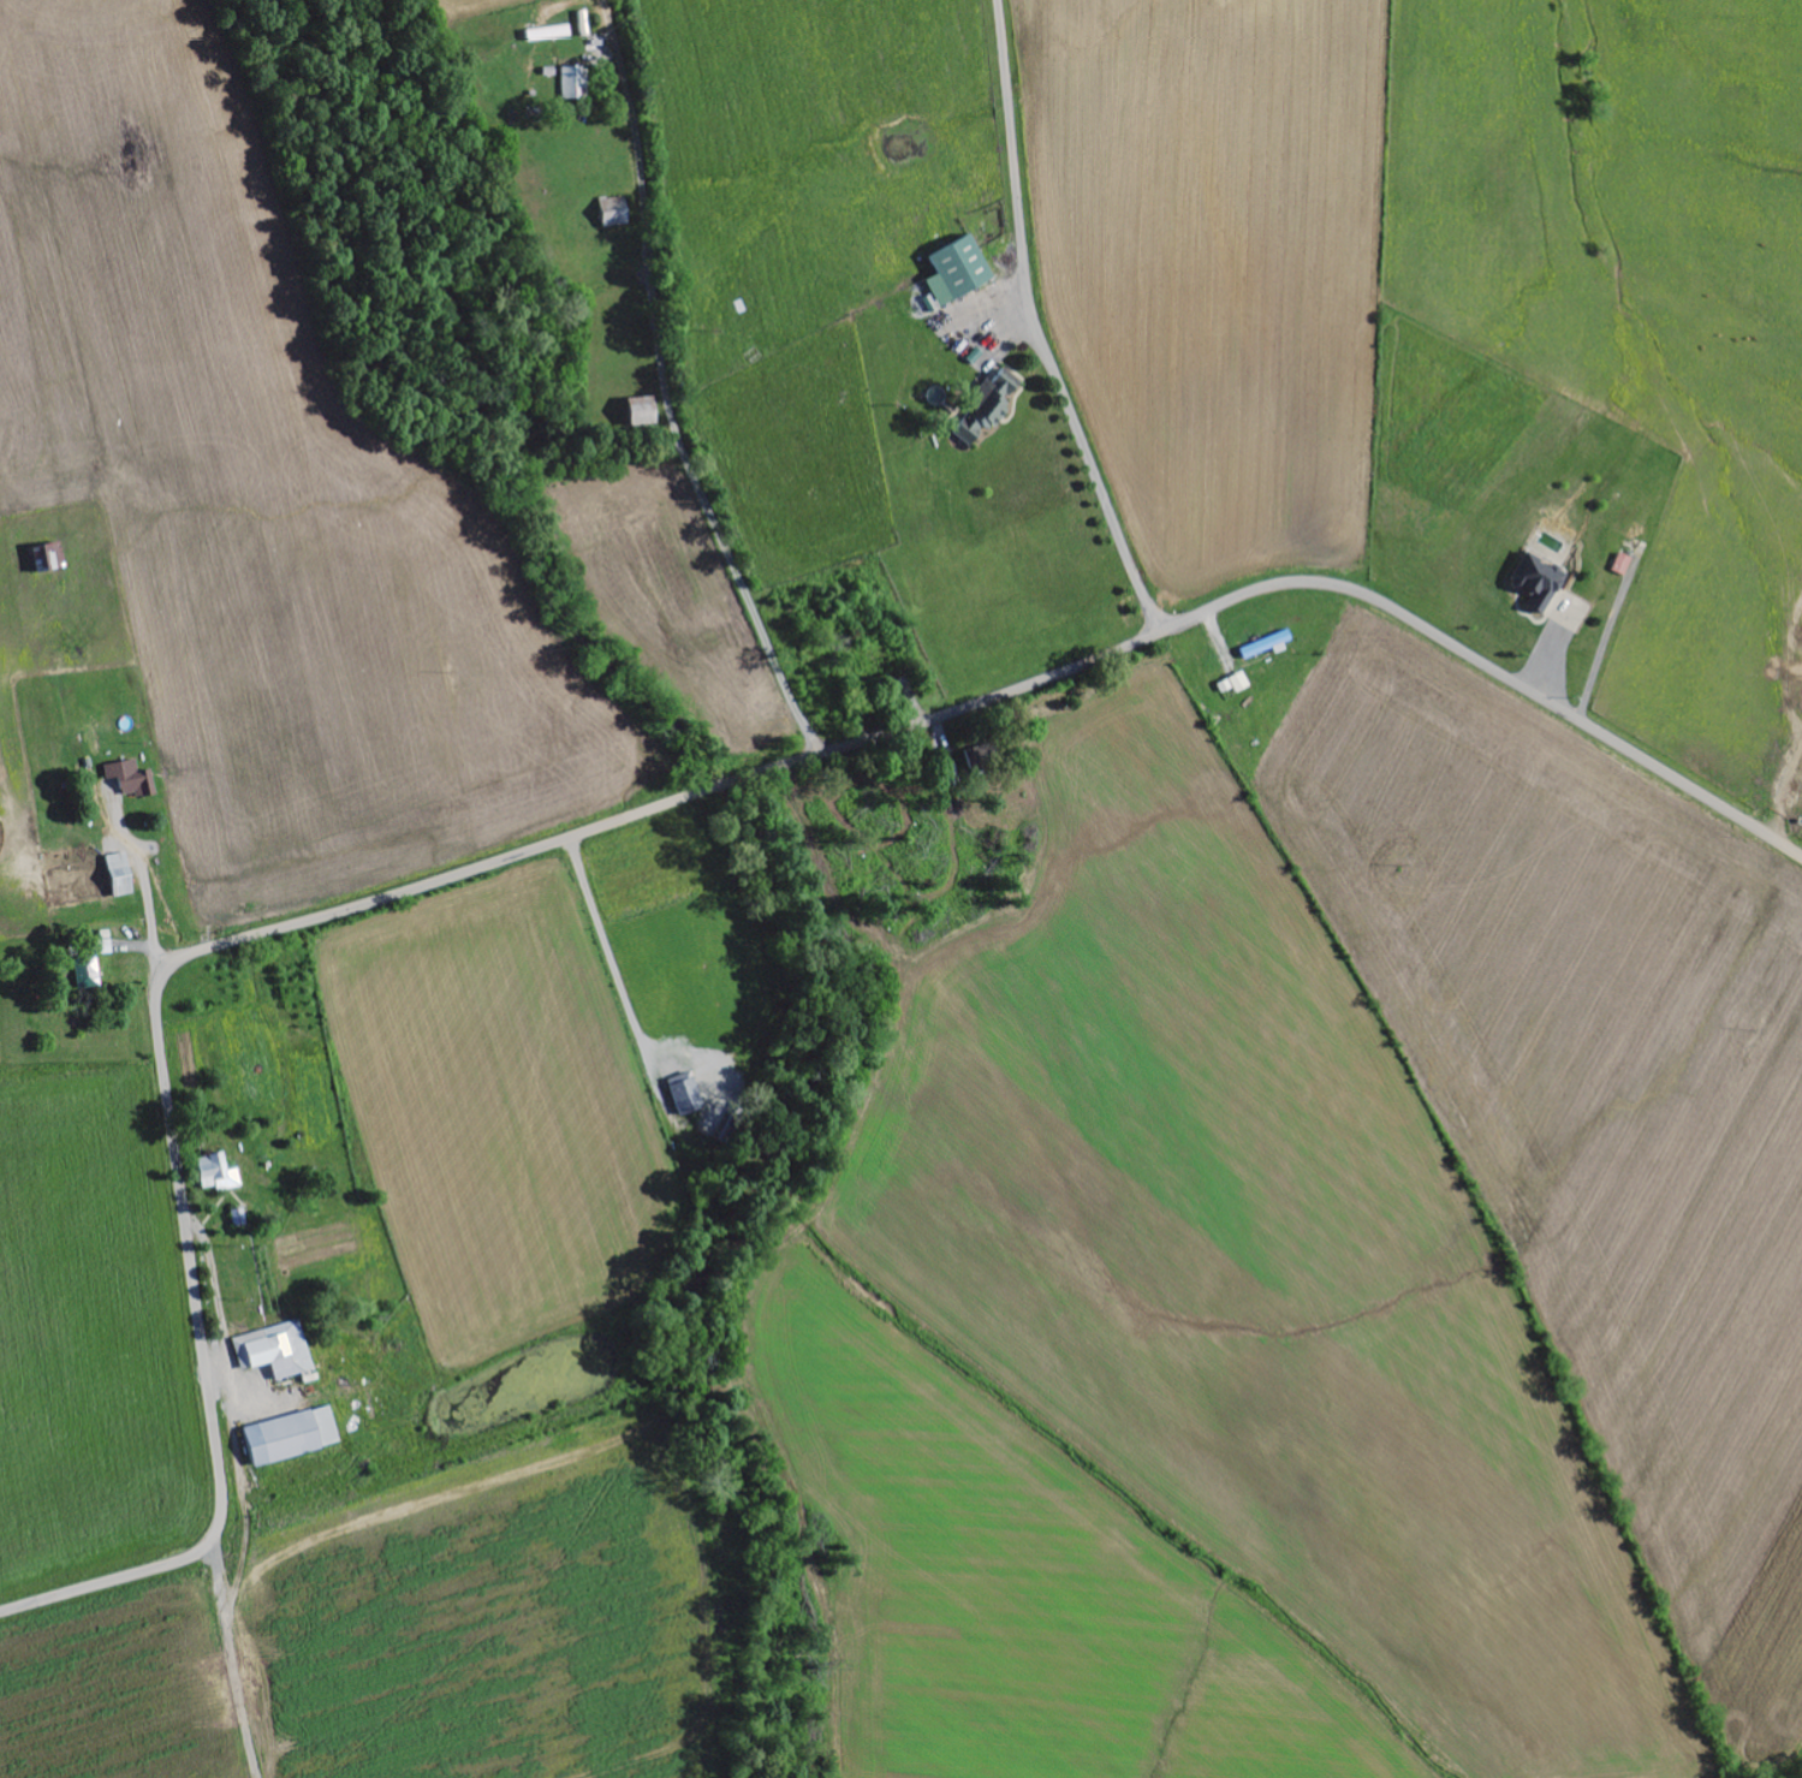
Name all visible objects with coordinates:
building: (575, 82)
building: (613, 212)
building: (958, 270)
road: (1039, 326)
building: (988, 406)
building: (642, 411)
road: (673, 418)
building: (48, 555)
building: (1622, 565)
building: (1538, 582)
building: (1268, 647)
building: (1235, 684)
building: (130, 779)
road: (628, 817)
building: (119, 875)
building: (85, 973)
building: (686, 1095)
building: (216, 1173)
building: (275, 1351)
building: (291, 1437)

